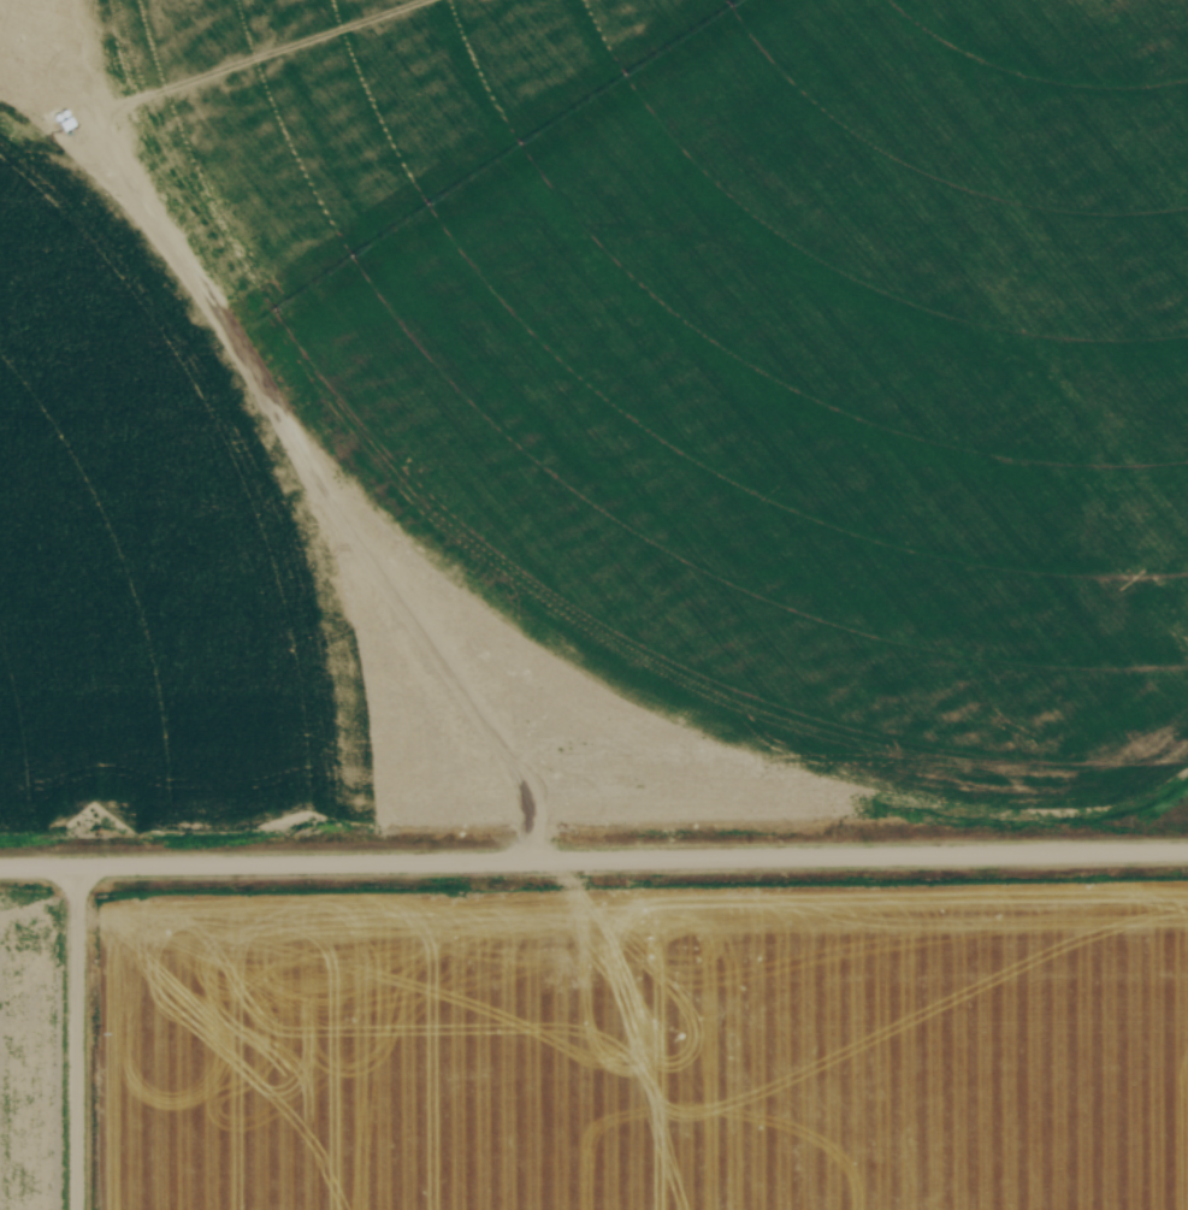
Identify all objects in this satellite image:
road: (593, 866)
road: (79, 1039)

